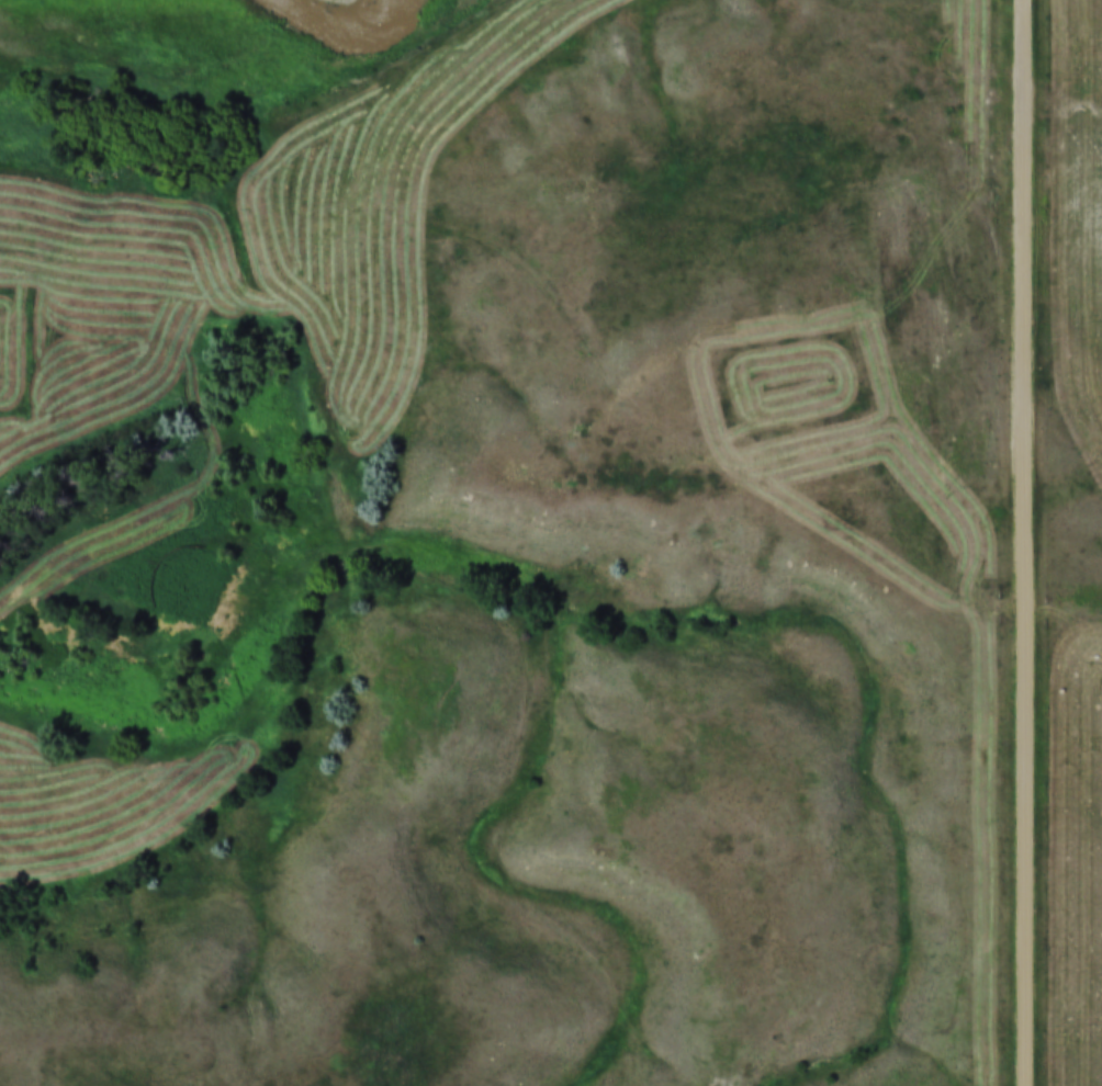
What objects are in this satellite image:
river: (359, 3)
road: (1031, 543)

